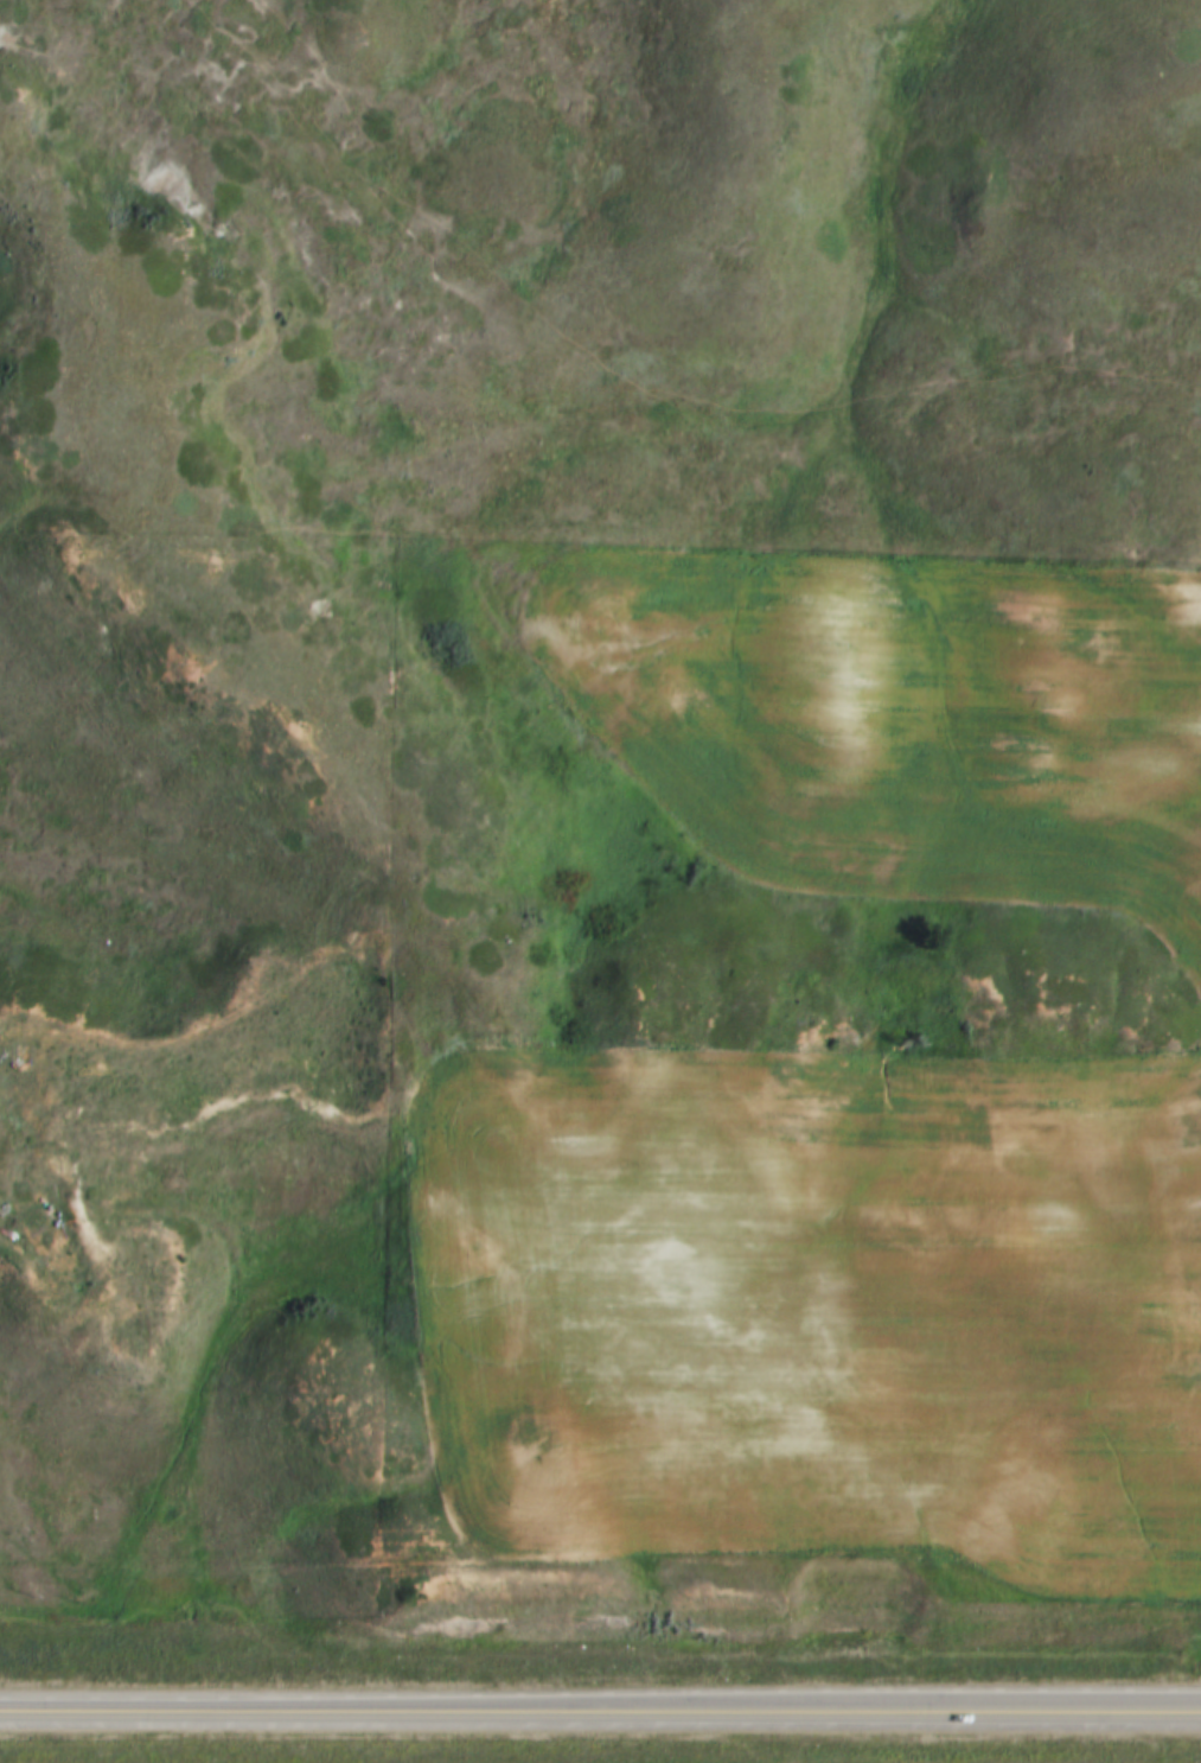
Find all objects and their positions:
road: (1135, 1720)
road: (534, 1724)

